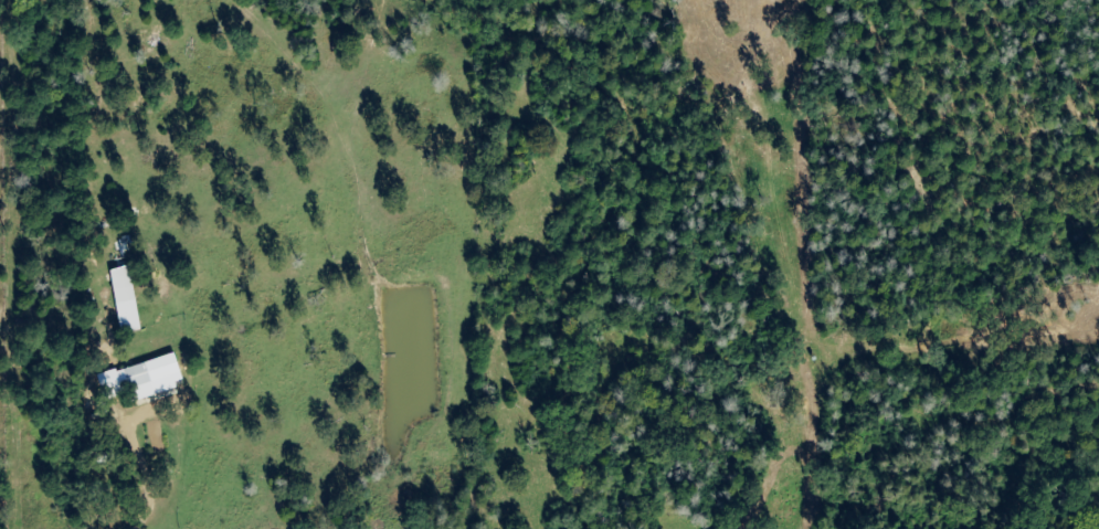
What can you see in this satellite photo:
building: (133, 378)

